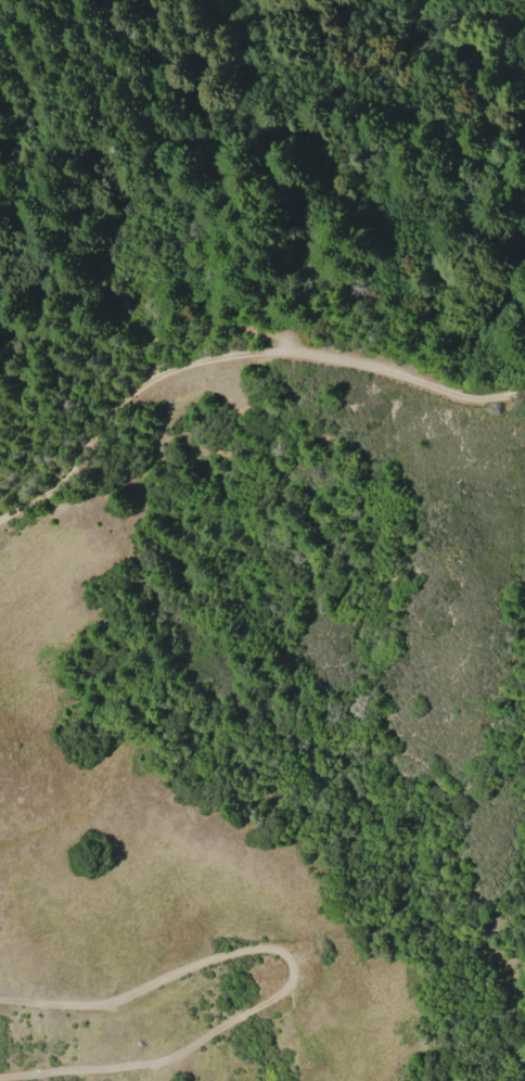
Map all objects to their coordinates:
road: (140, 347)
road: (235, 369)
road: (291, 965)

